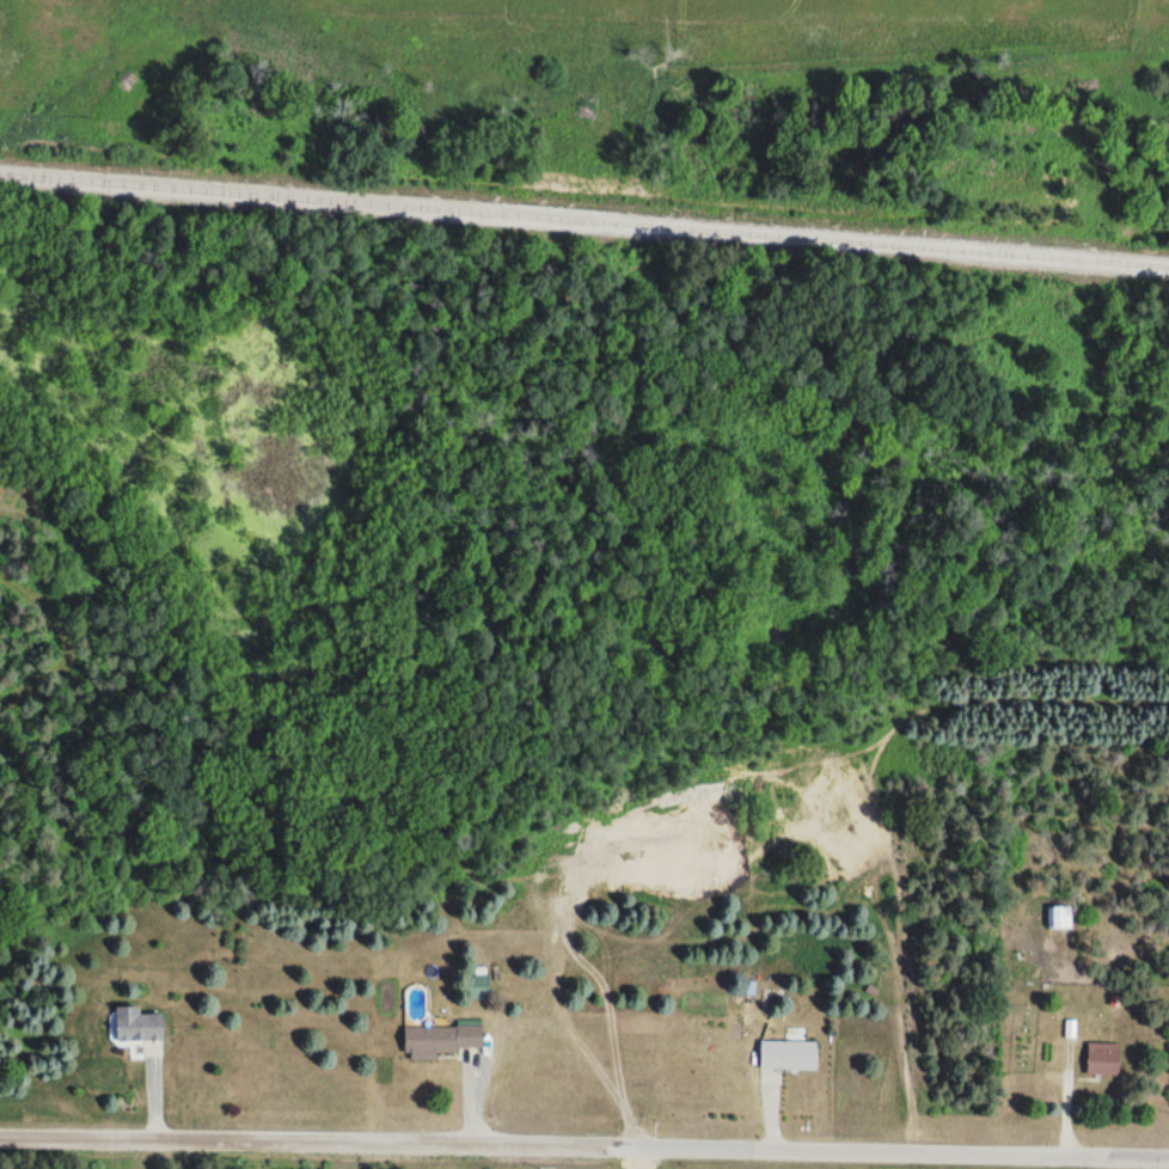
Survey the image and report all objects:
railway: (584, 216)
building: (1058, 918)
building: (478, 987)
building: (139, 1026)
building: (441, 1041)
building: (789, 1055)
building: (1103, 1061)
road: (584, 1142)

